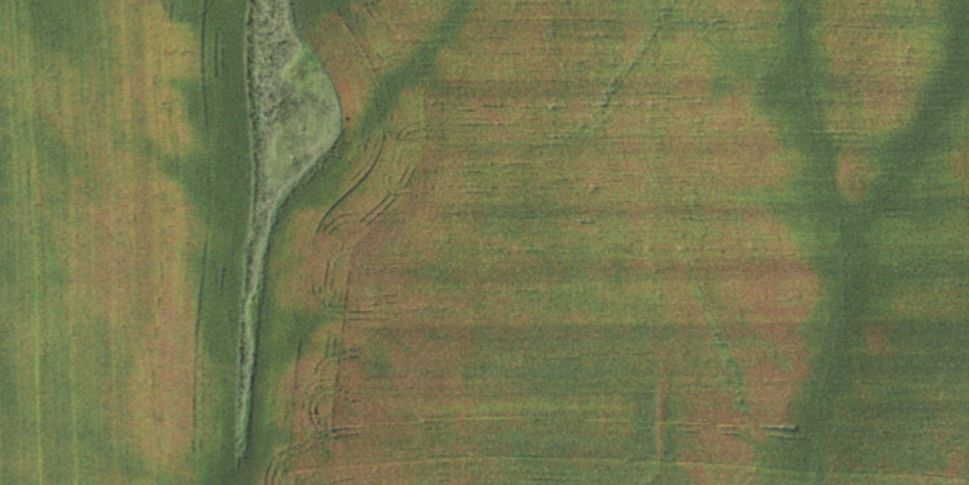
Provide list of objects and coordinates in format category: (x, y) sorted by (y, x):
road: (702, 242)

